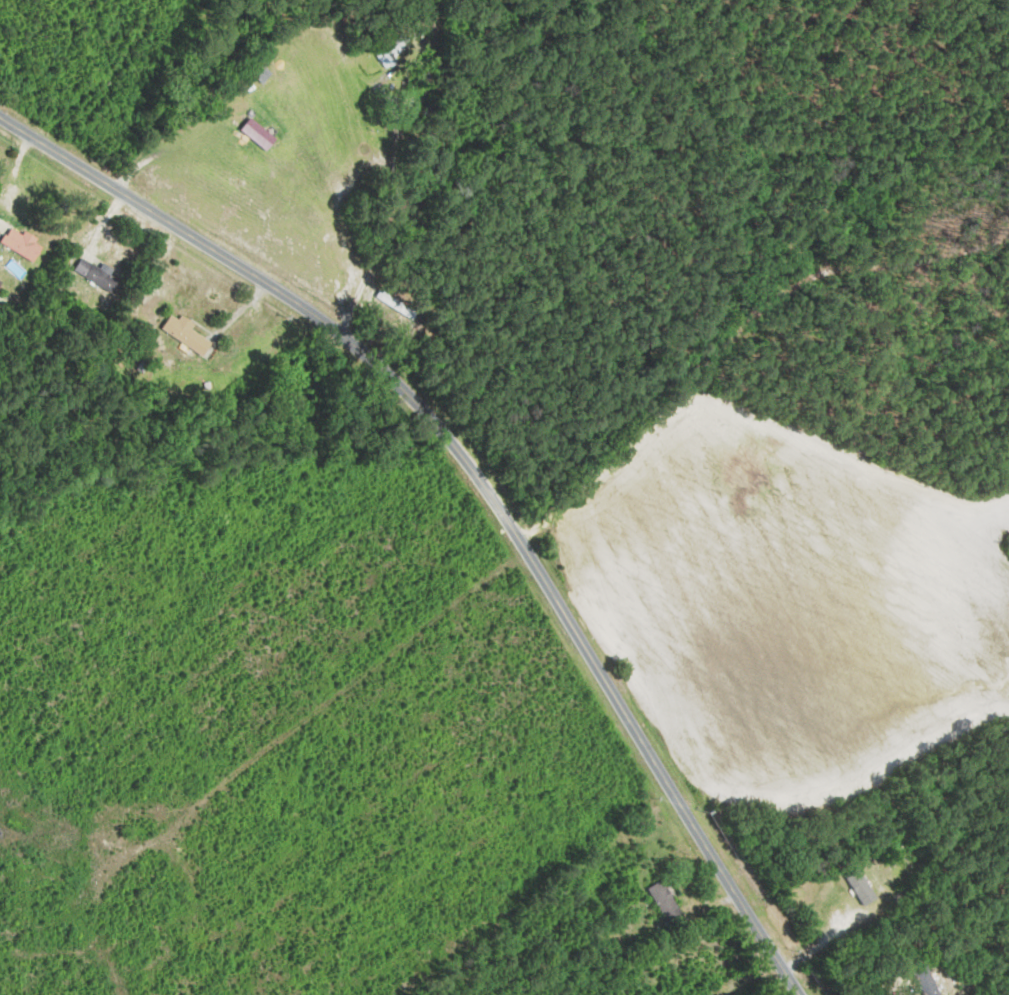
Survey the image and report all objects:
building: (394, 52)
building: (261, 73)
building: (259, 134)
building: (24, 245)
building: (97, 275)
building: (0, 284)
building: (395, 312)
building: (185, 333)
road: (479, 479)
building: (862, 887)
building: (668, 903)
building: (682, 974)

